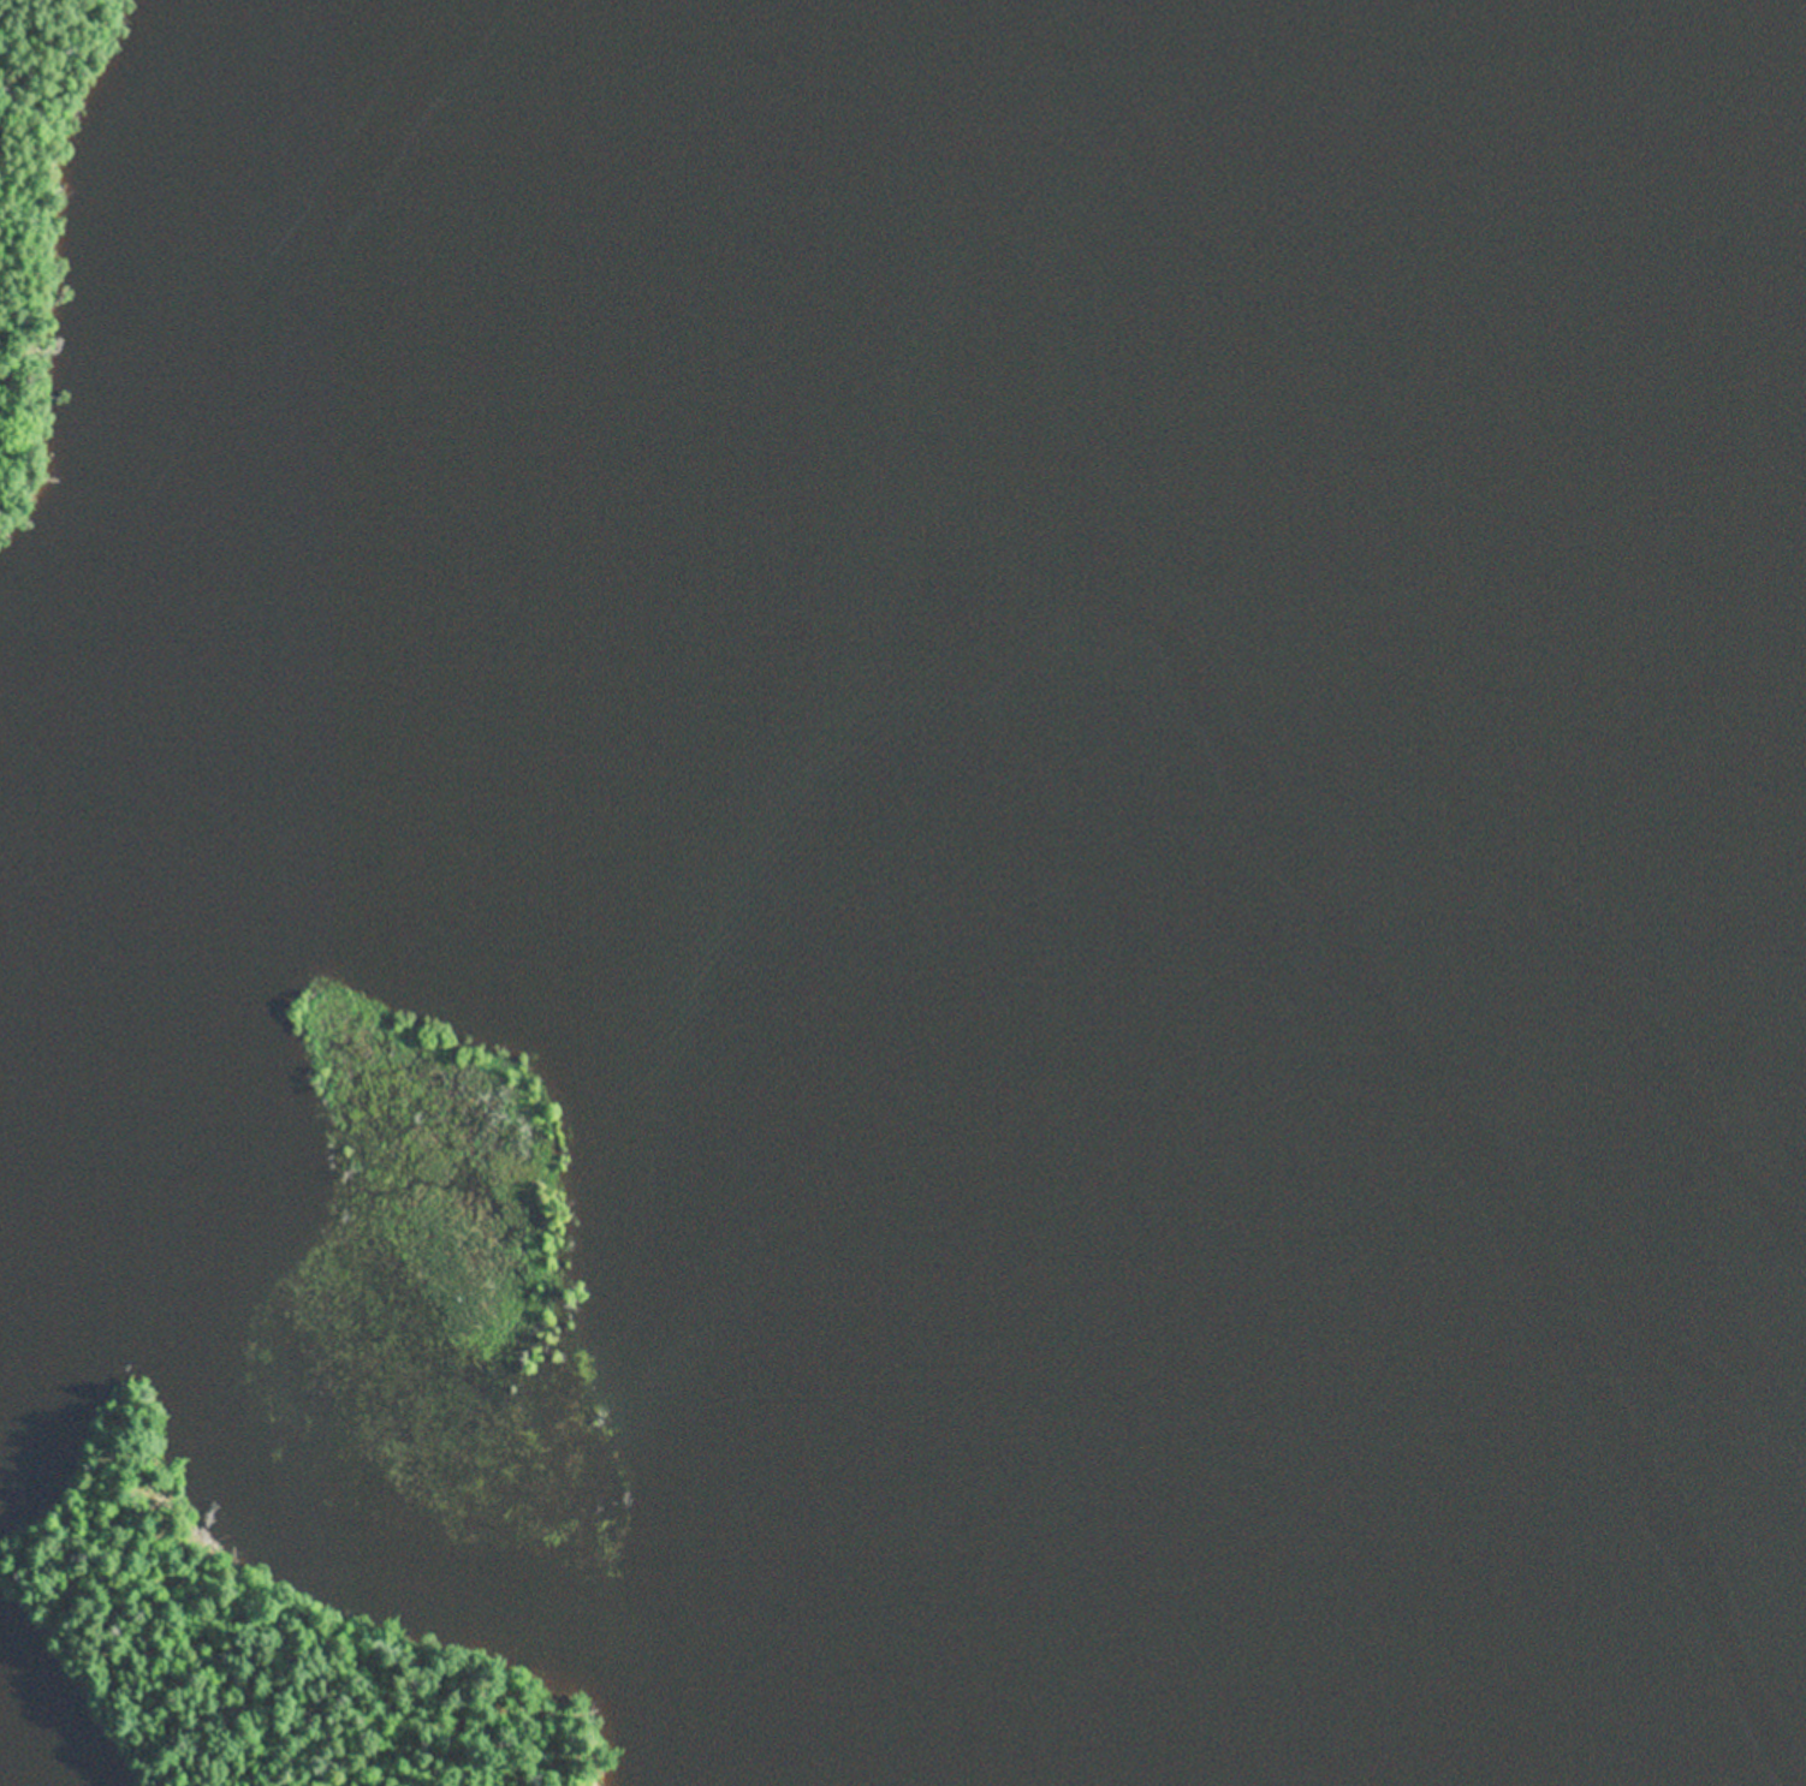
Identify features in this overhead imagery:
river: (814, 982)

